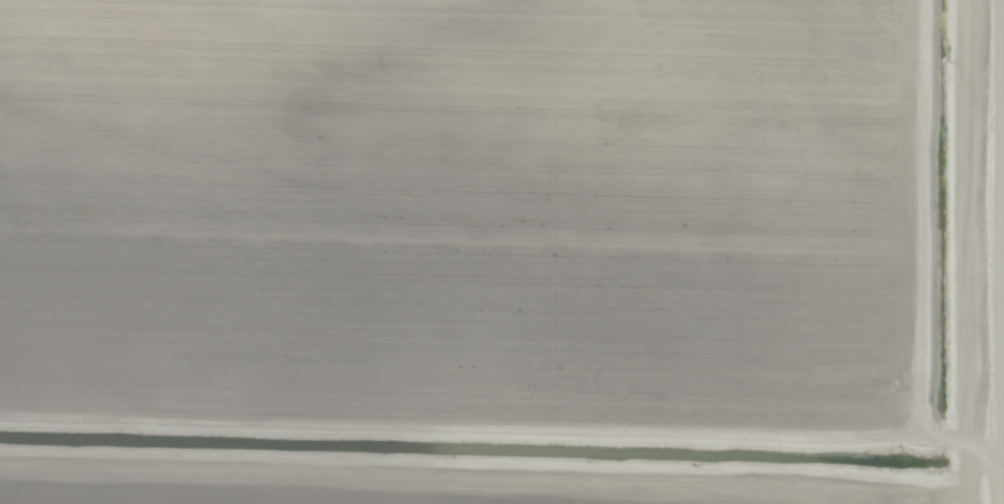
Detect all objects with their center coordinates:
crop: (452, 251)

